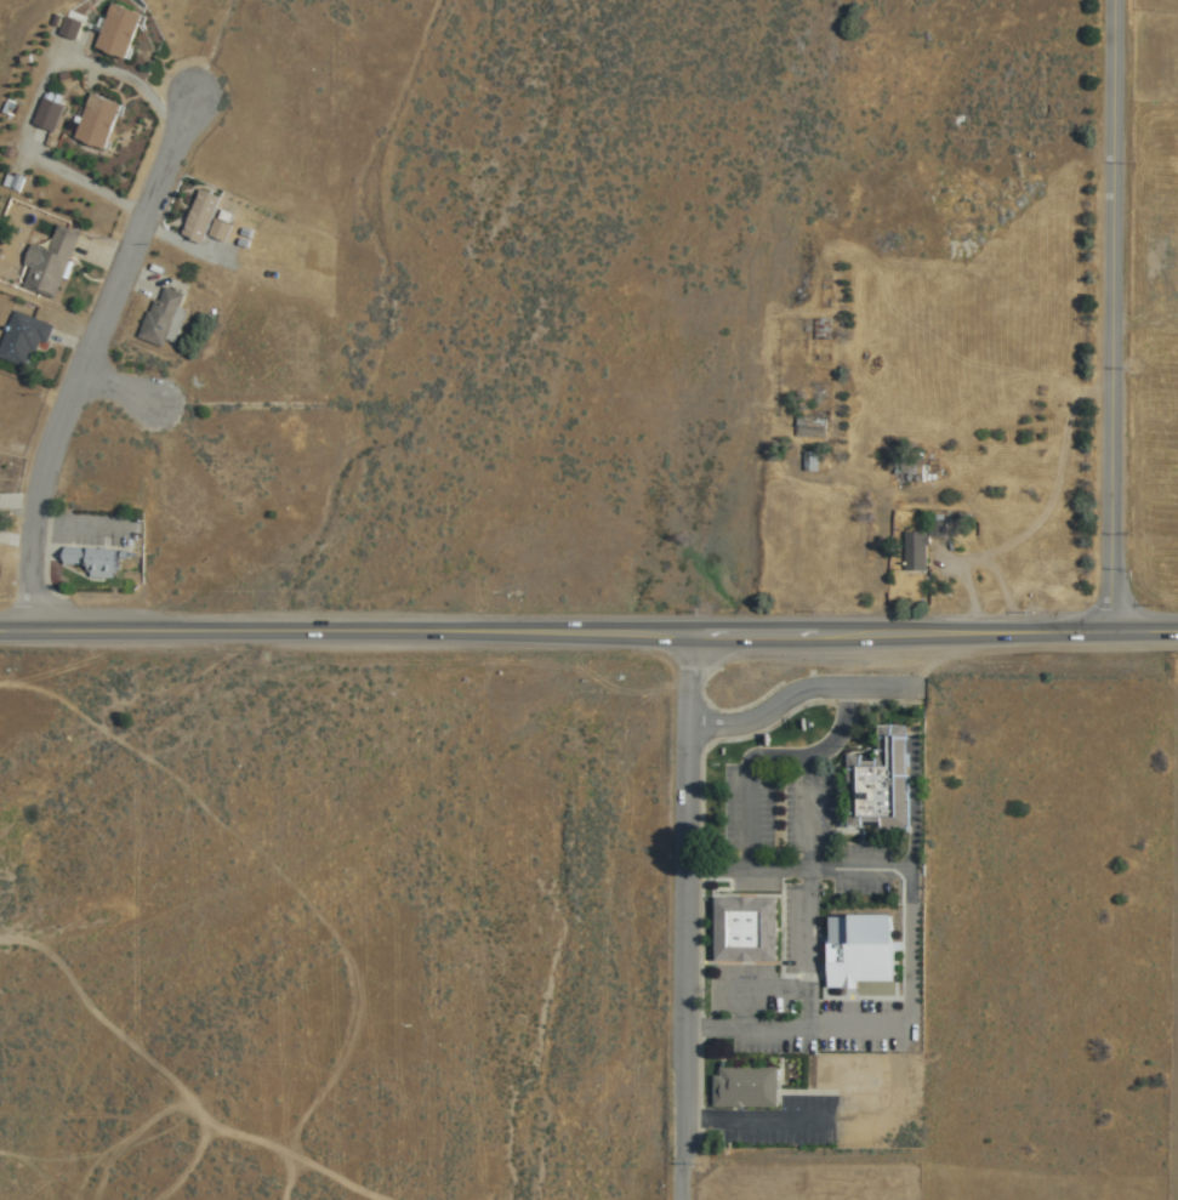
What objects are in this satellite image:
building: (68, 28)
building: (115, 32)
building: (46, 115)
building: (95, 121)
building: (204, 220)
building: (47, 265)
crop: (755, 307)
road: (1116, 315)
building: (161, 318)
building: (21, 341)
road: (90, 357)
road: (121, 386)
road: (78, 528)
building: (937, 528)
building: (914, 547)
building: (91, 562)
road: (588, 632)
road: (797, 692)
road: (770, 753)
building: (878, 783)
road: (914, 803)
road: (808, 891)
road: (681, 916)
building: (745, 931)
road: (910, 944)
road: (757, 988)
building: (744, 1085)
road: (755, 1117)
crop: (819, 1175)

